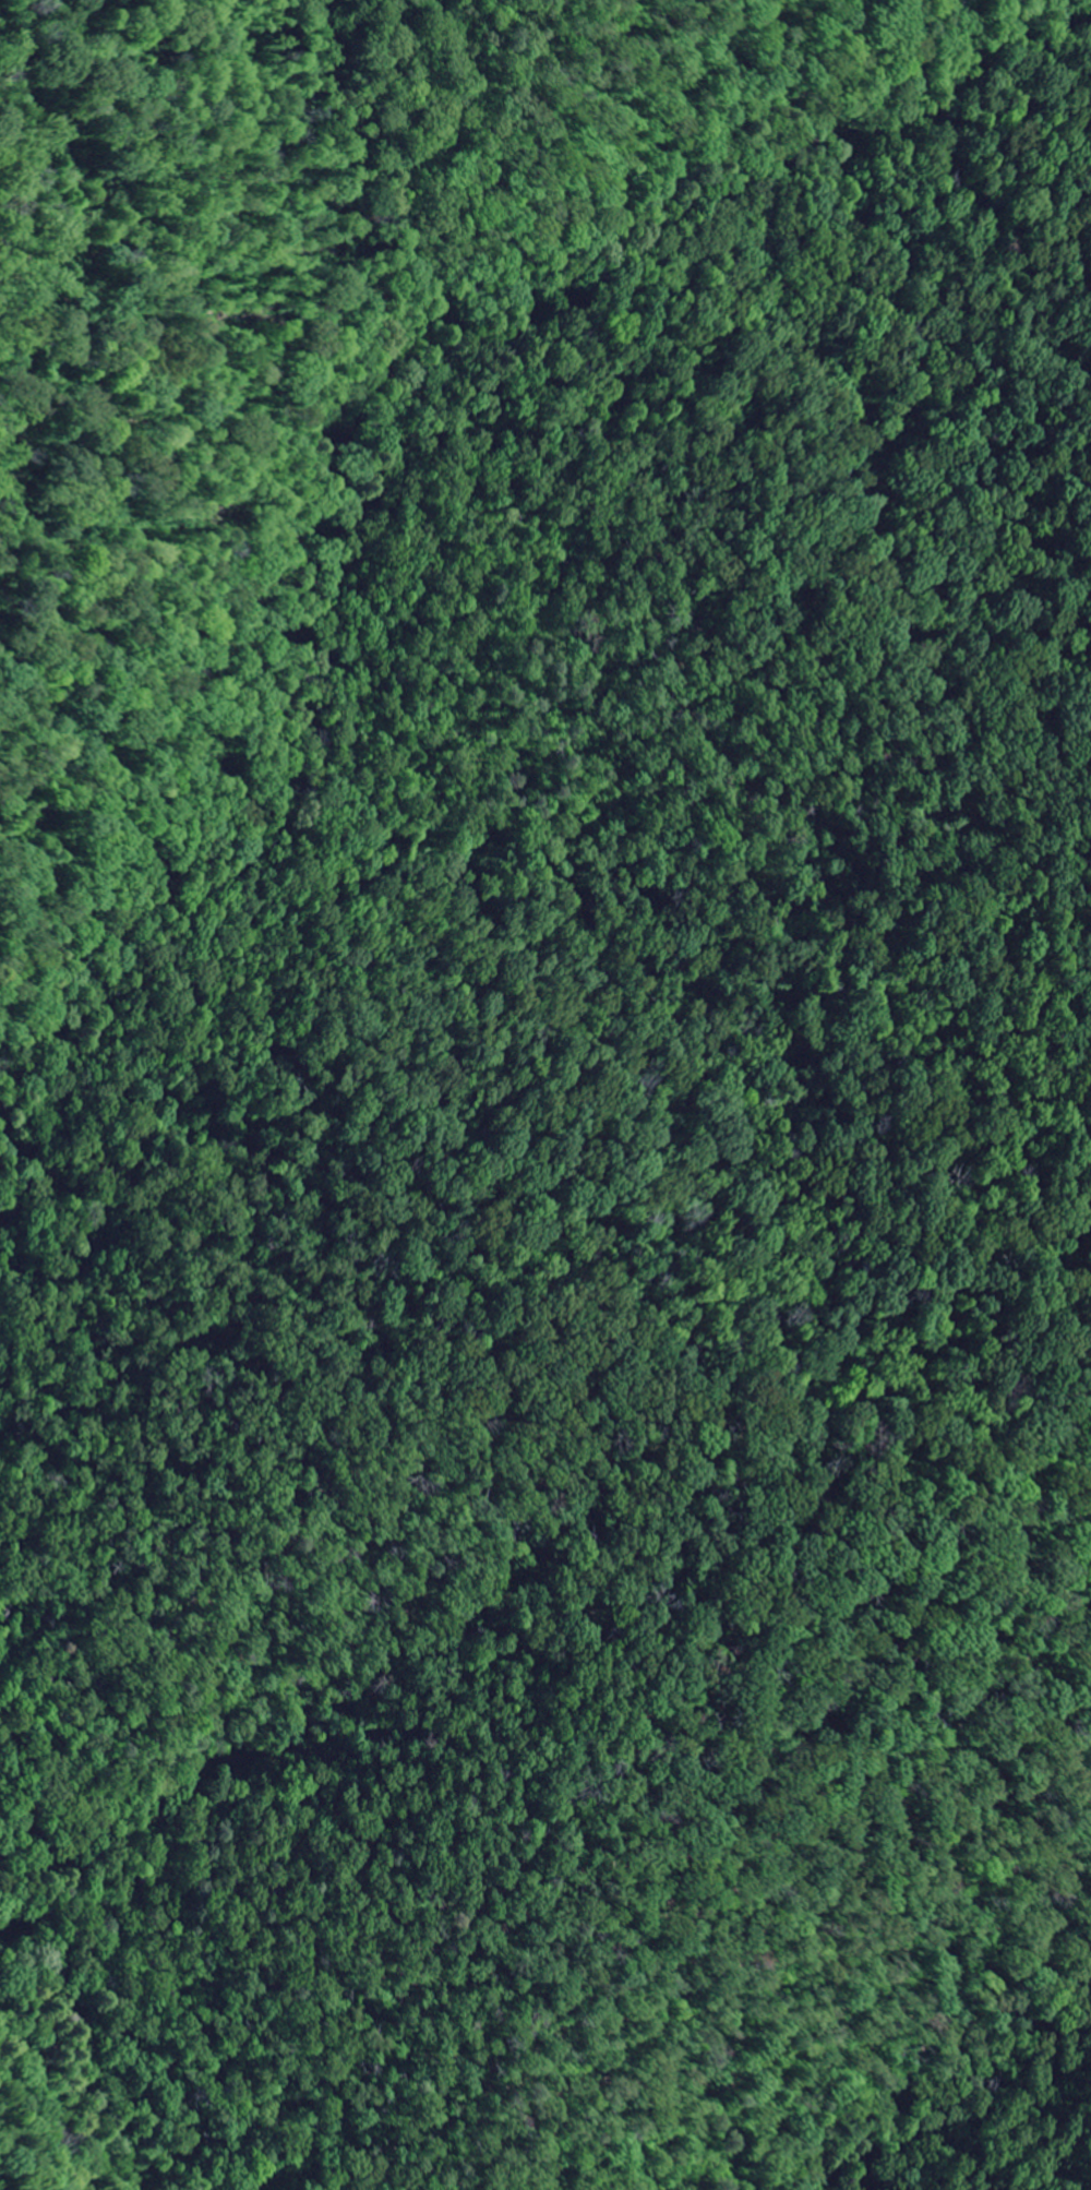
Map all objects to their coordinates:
road: (65, 287)
road: (190, 813)
road: (47, 2109)

